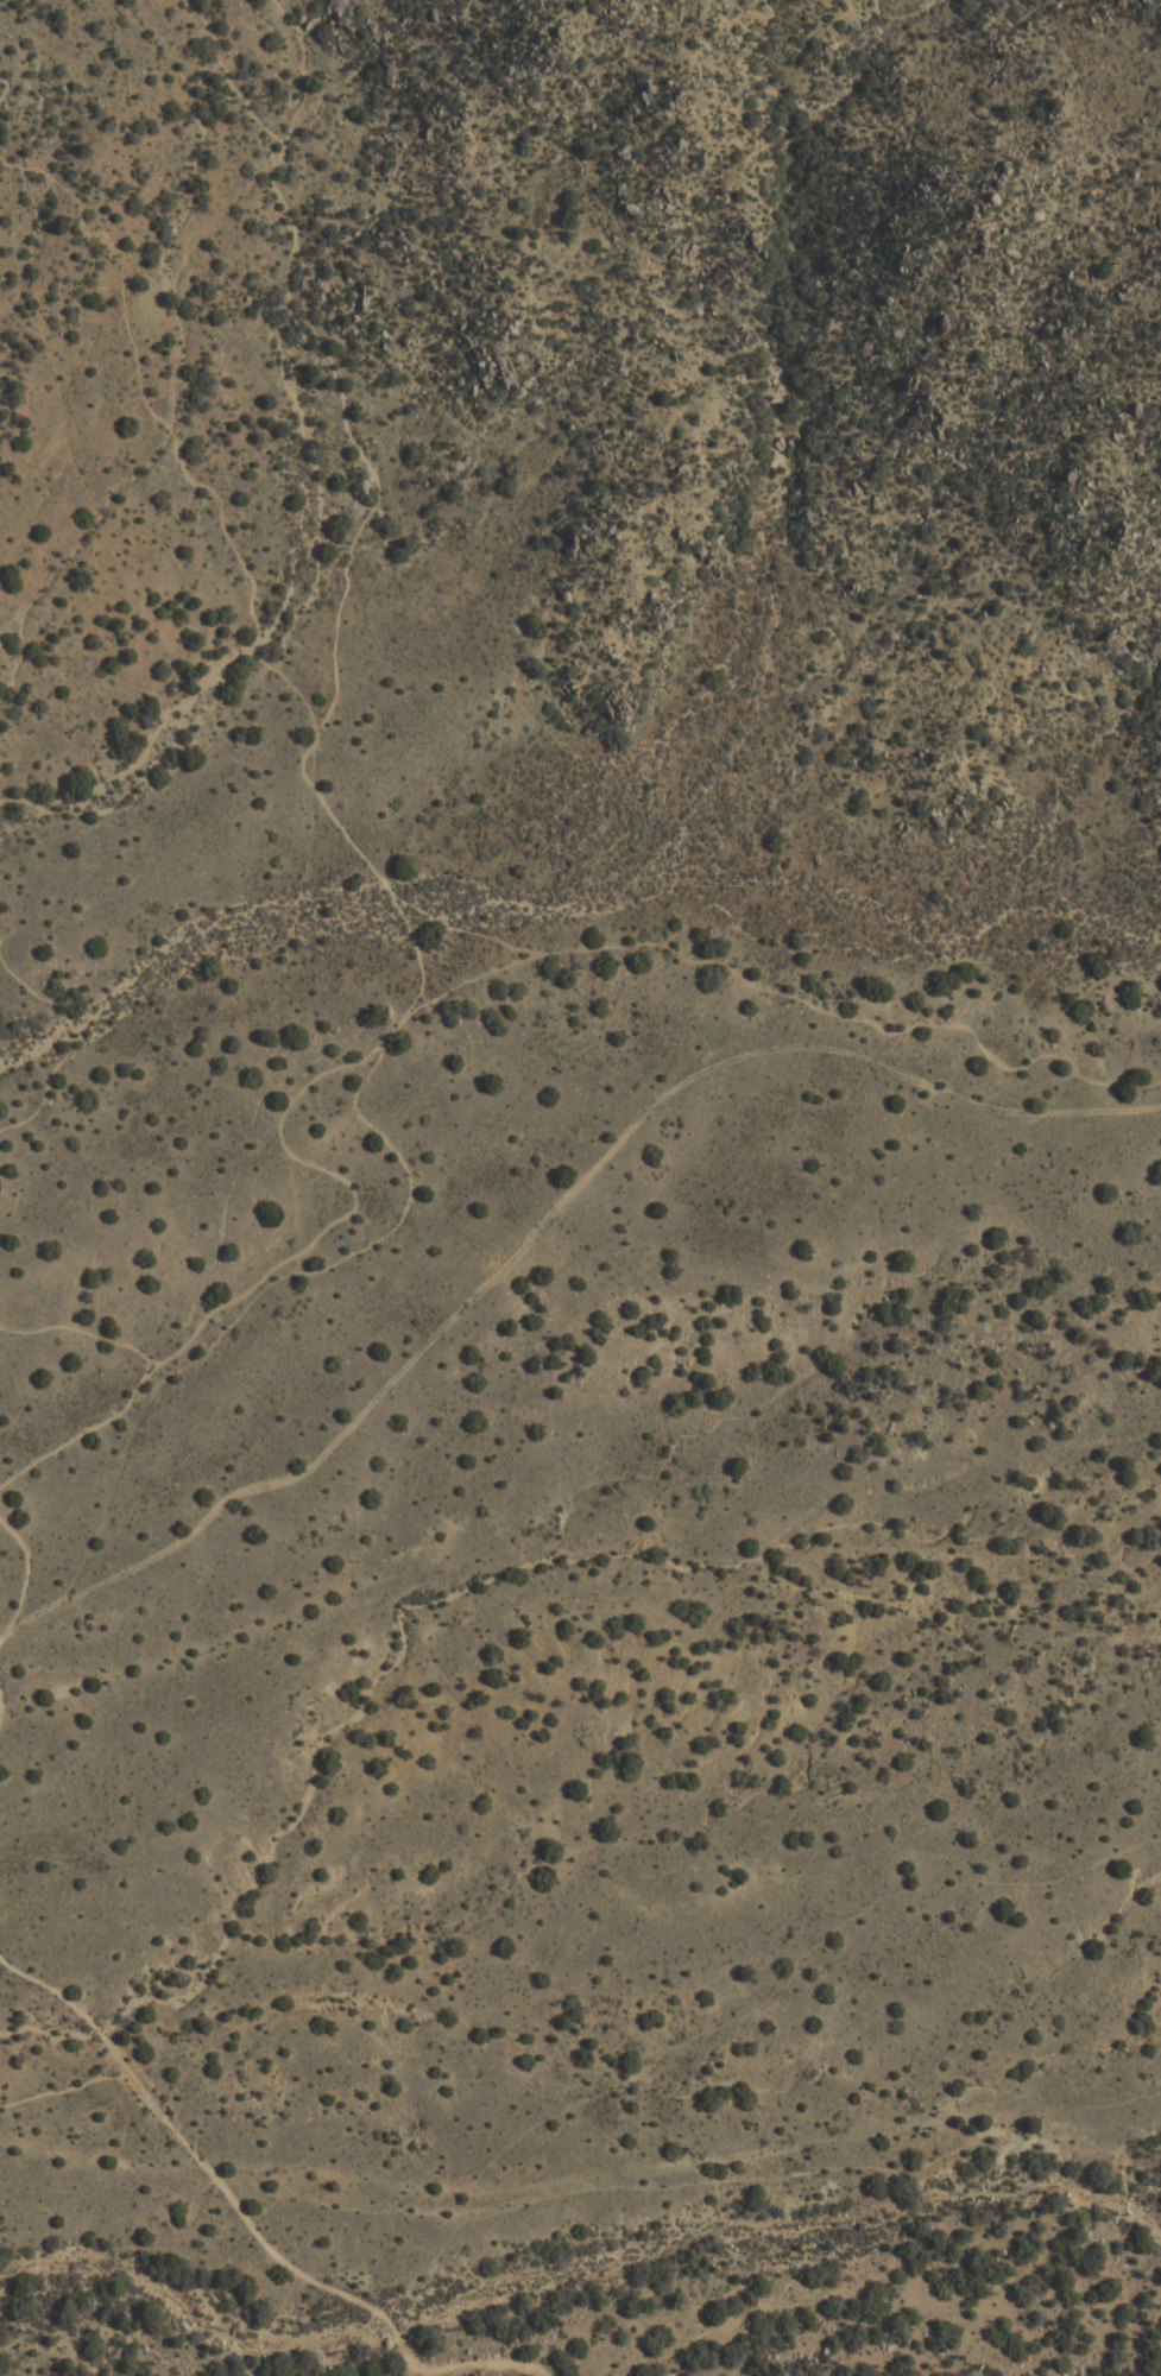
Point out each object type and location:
road: (358, 451)
road: (140, 751)
road: (391, 886)
road: (482, 975)
road: (784, 985)
road: (69, 1039)
road: (90, 1332)
park: (544, 1541)
road: (20, 1569)
road: (0, 1714)
road: (65, 2090)
road: (244, 2211)

